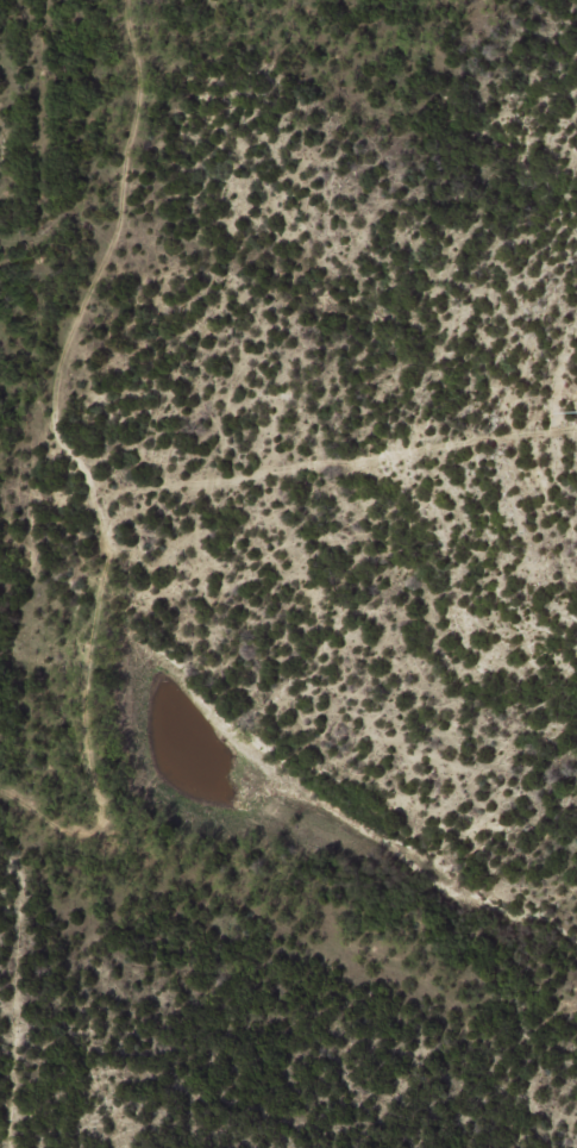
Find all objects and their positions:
road: (109, 431)

